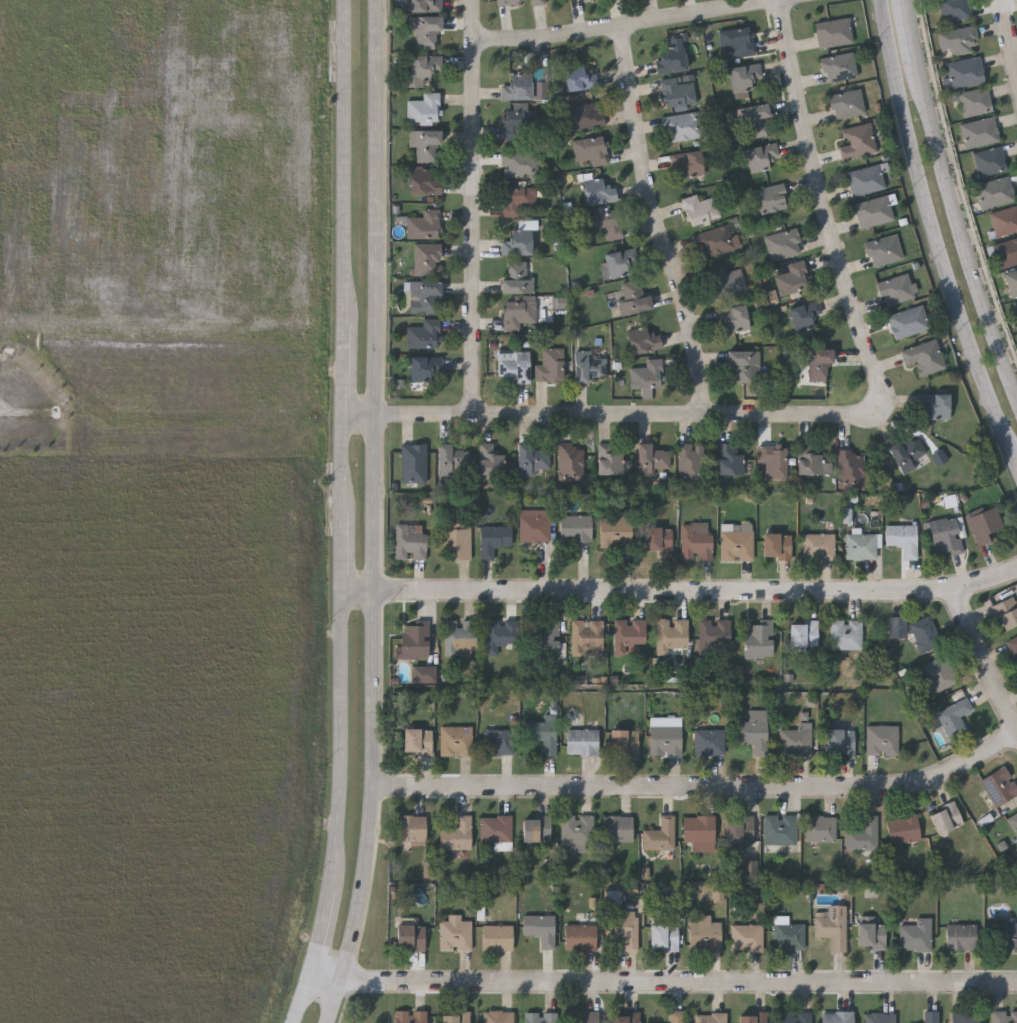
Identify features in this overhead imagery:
building: (506, 1)
building: (538, 1)
building: (426, 5)
building: (954, 9)
road: (629, 24)
building: (426, 31)
building: (834, 31)
road: (1010, 33)
road: (914, 36)
building: (738, 39)
building: (957, 42)
building: (672, 58)
building: (838, 66)
building: (424, 69)
building: (963, 73)
building: (744, 76)
building: (579, 77)
building: (518, 85)
building: (540, 89)
building: (678, 90)
building: (846, 102)
building: (974, 102)
building: (424, 107)
building: (583, 115)
building: (757, 120)
building: (518, 121)
building: (682, 125)
building: (978, 133)
building: (858, 140)
building: (425, 143)
building: (590, 149)
building: (761, 155)
building: (521, 162)
building: (688, 162)
building: (988, 162)
building: (867, 178)
building: (425, 180)
building: (599, 190)
building: (994, 192)
building: (769, 197)
road: (822, 197)
building: (520, 200)
road: (475, 208)
building: (700, 208)
building: (874, 209)
road: (656, 221)
building: (1003, 221)
building: (606, 222)
building: (424, 224)
road: (935, 235)
road: (960, 238)
building: (716, 240)
building: (518, 241)
building: (783, 242)
building: (884, 248)
building: (1005, 253)
building: (427, 258)
building: (620, 261)
building: (517, 276)
building: (793, 277)
building: (727, 279)
building: (1011, 283)
building: (896, 287)
building: (425, 295)
building: (633, 297)
building: (773, 297)
building: (559, 303)
building: (1015, 308)
building: (519, 312)
building: (804, 313)
building: (733, 316)
building: (909, 320)
building: (425, 333)
building: (644, 339)
building: (924, 356)
building: (815, 361)
building: (514, 363)
building: (551, 363)
building: (589, 365)
building: (744, 365)
building: (423, 369)
building: (648, 373)
building: (935, 405)
road: (620, 414)
building: (907, 452)
building: (533, 457)
building: (652, 457)
building: (452, 458)
building: (491, 458)
building: (729, 458)
building: (774, 459)
building: (811, 459)
building: (612, 460)
building: (414, 461)
building: (570, 461)
building: (690, 461)
building: (850, 467)
road: (348, 514)
road: (379, 514)
building: (535, 523)
building: (987, 523)
building: (576, 526)
building: (616, 531)
building: (946, 535)
building: (457, 537)
building: (658, 537)
building: (903, 537)
building: (494, 538)
building: (697, 539)
building: (410, 540)
building: (737, 542)
building: (777, 544)
building: (818, 545)
building: (861, 545)
road: (683, 589)
building: (1007, 611)
building: (897, 625)
building: (588, 632)
building: (628, 632)
building: (715, 632)
building: (804, 632)
building: (671, 633)
building: (846, 633)
building: (925, 633)
building: (501, 634)
building: (461, 636)
building: (545, 636)
building: (759, 638)
building: (413, 640)
building: (1013, 645)
road: (983, 656)
building: (940, 672)
building: (426, 674)
building: (954, 717)
building: (753, 732)
building: (543, 733)
building: (882, 738)
building: (456, 739)
building: (666, 739)
building: (796, 739)
building: (418, 740)
building: (582, 740)
building: (624, 740)
building: (709, 740)
building: (840, 740)
building: (498, 741)
building: (999, 784)
road: (702, 787)
building: (946, 816)
building: (1013, 819)
building: (411, 827)
building: (496, 827)
building: (536, 827)
building: (618, 827)
building: (822, 827)
building: (904, 827)
building: (578, 828)
building: (780, 828)
building: (699, 830)
building: (739, 830)
building: (457, 833)
building: (660, 834)
building: (863, 835)
building: (750, 867)
building: (717, 894)
building: (833, 925)
building: (624, 927)
building: (540, 928)
building: (455, 932)
building: (705, 934)
building: (872, 934)
building: (916, 934)
building: (411, 935)
building: (580, 935)
building: (664, 935)
building: (789, 935)
building: (961, 935)
building: (1008, 935)
building: (497, 936)
building: (747, 936)
road: (667, 983)
building: (413, 1015)
building: (782, 1015)
building: (1004, 1015)
building: (455, 1016)
building: (498, 1016)
building: (583, 1016)
building: (676, 1016)
building: (837, 1016)
building: (932, 1016)
building: (541, 1017)
building: (625, 1017)
building: (711, 1017)
building: (753, 1017)
building: (880, 1017)
building: (965, 1017)

